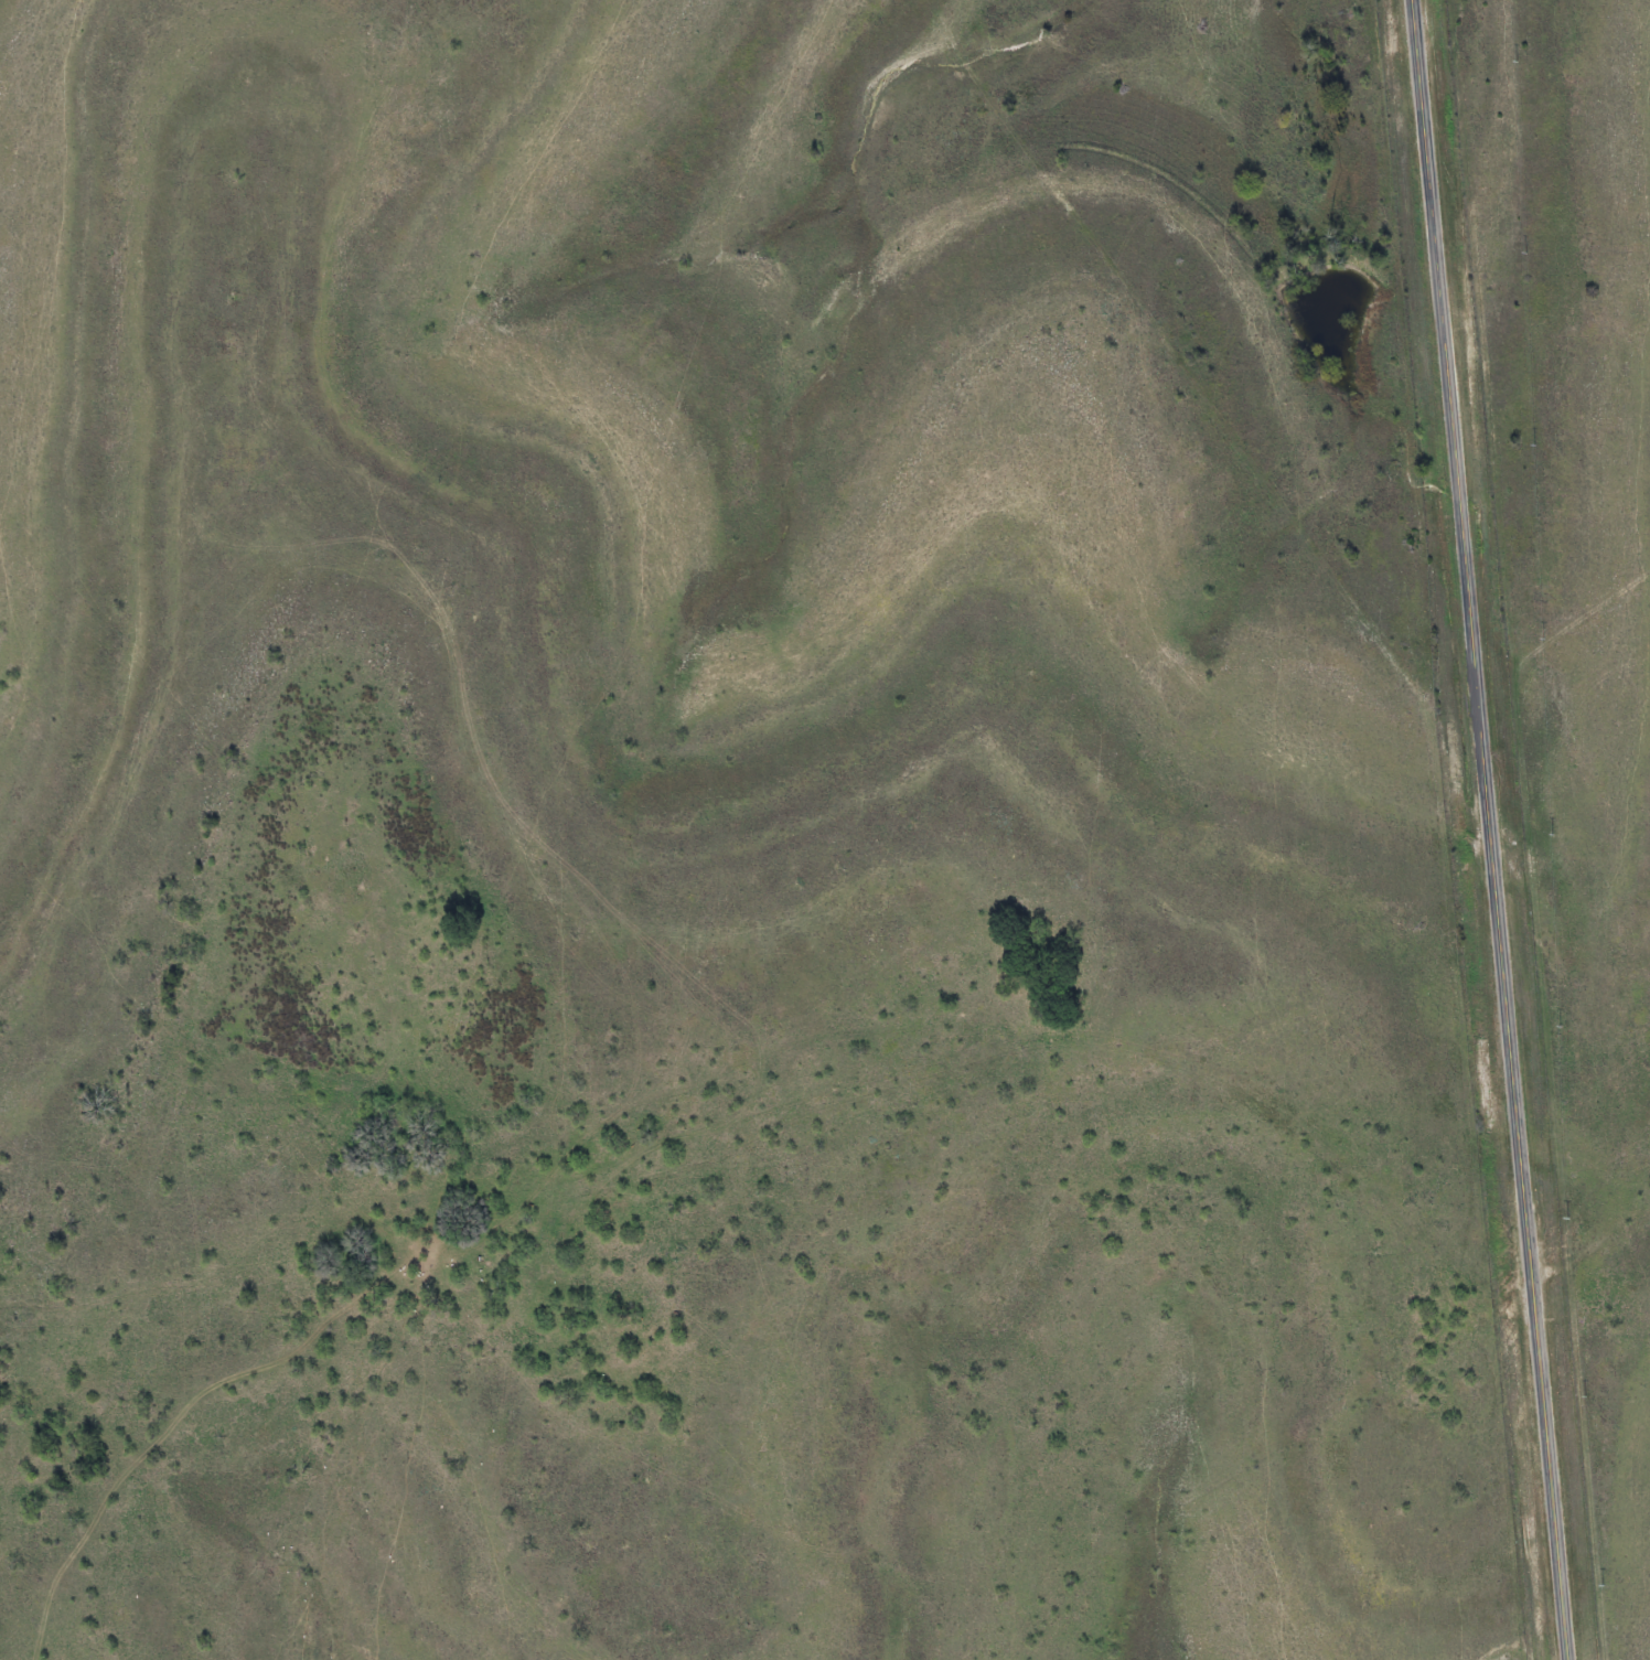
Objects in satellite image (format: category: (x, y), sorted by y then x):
road: (1496, 829)

